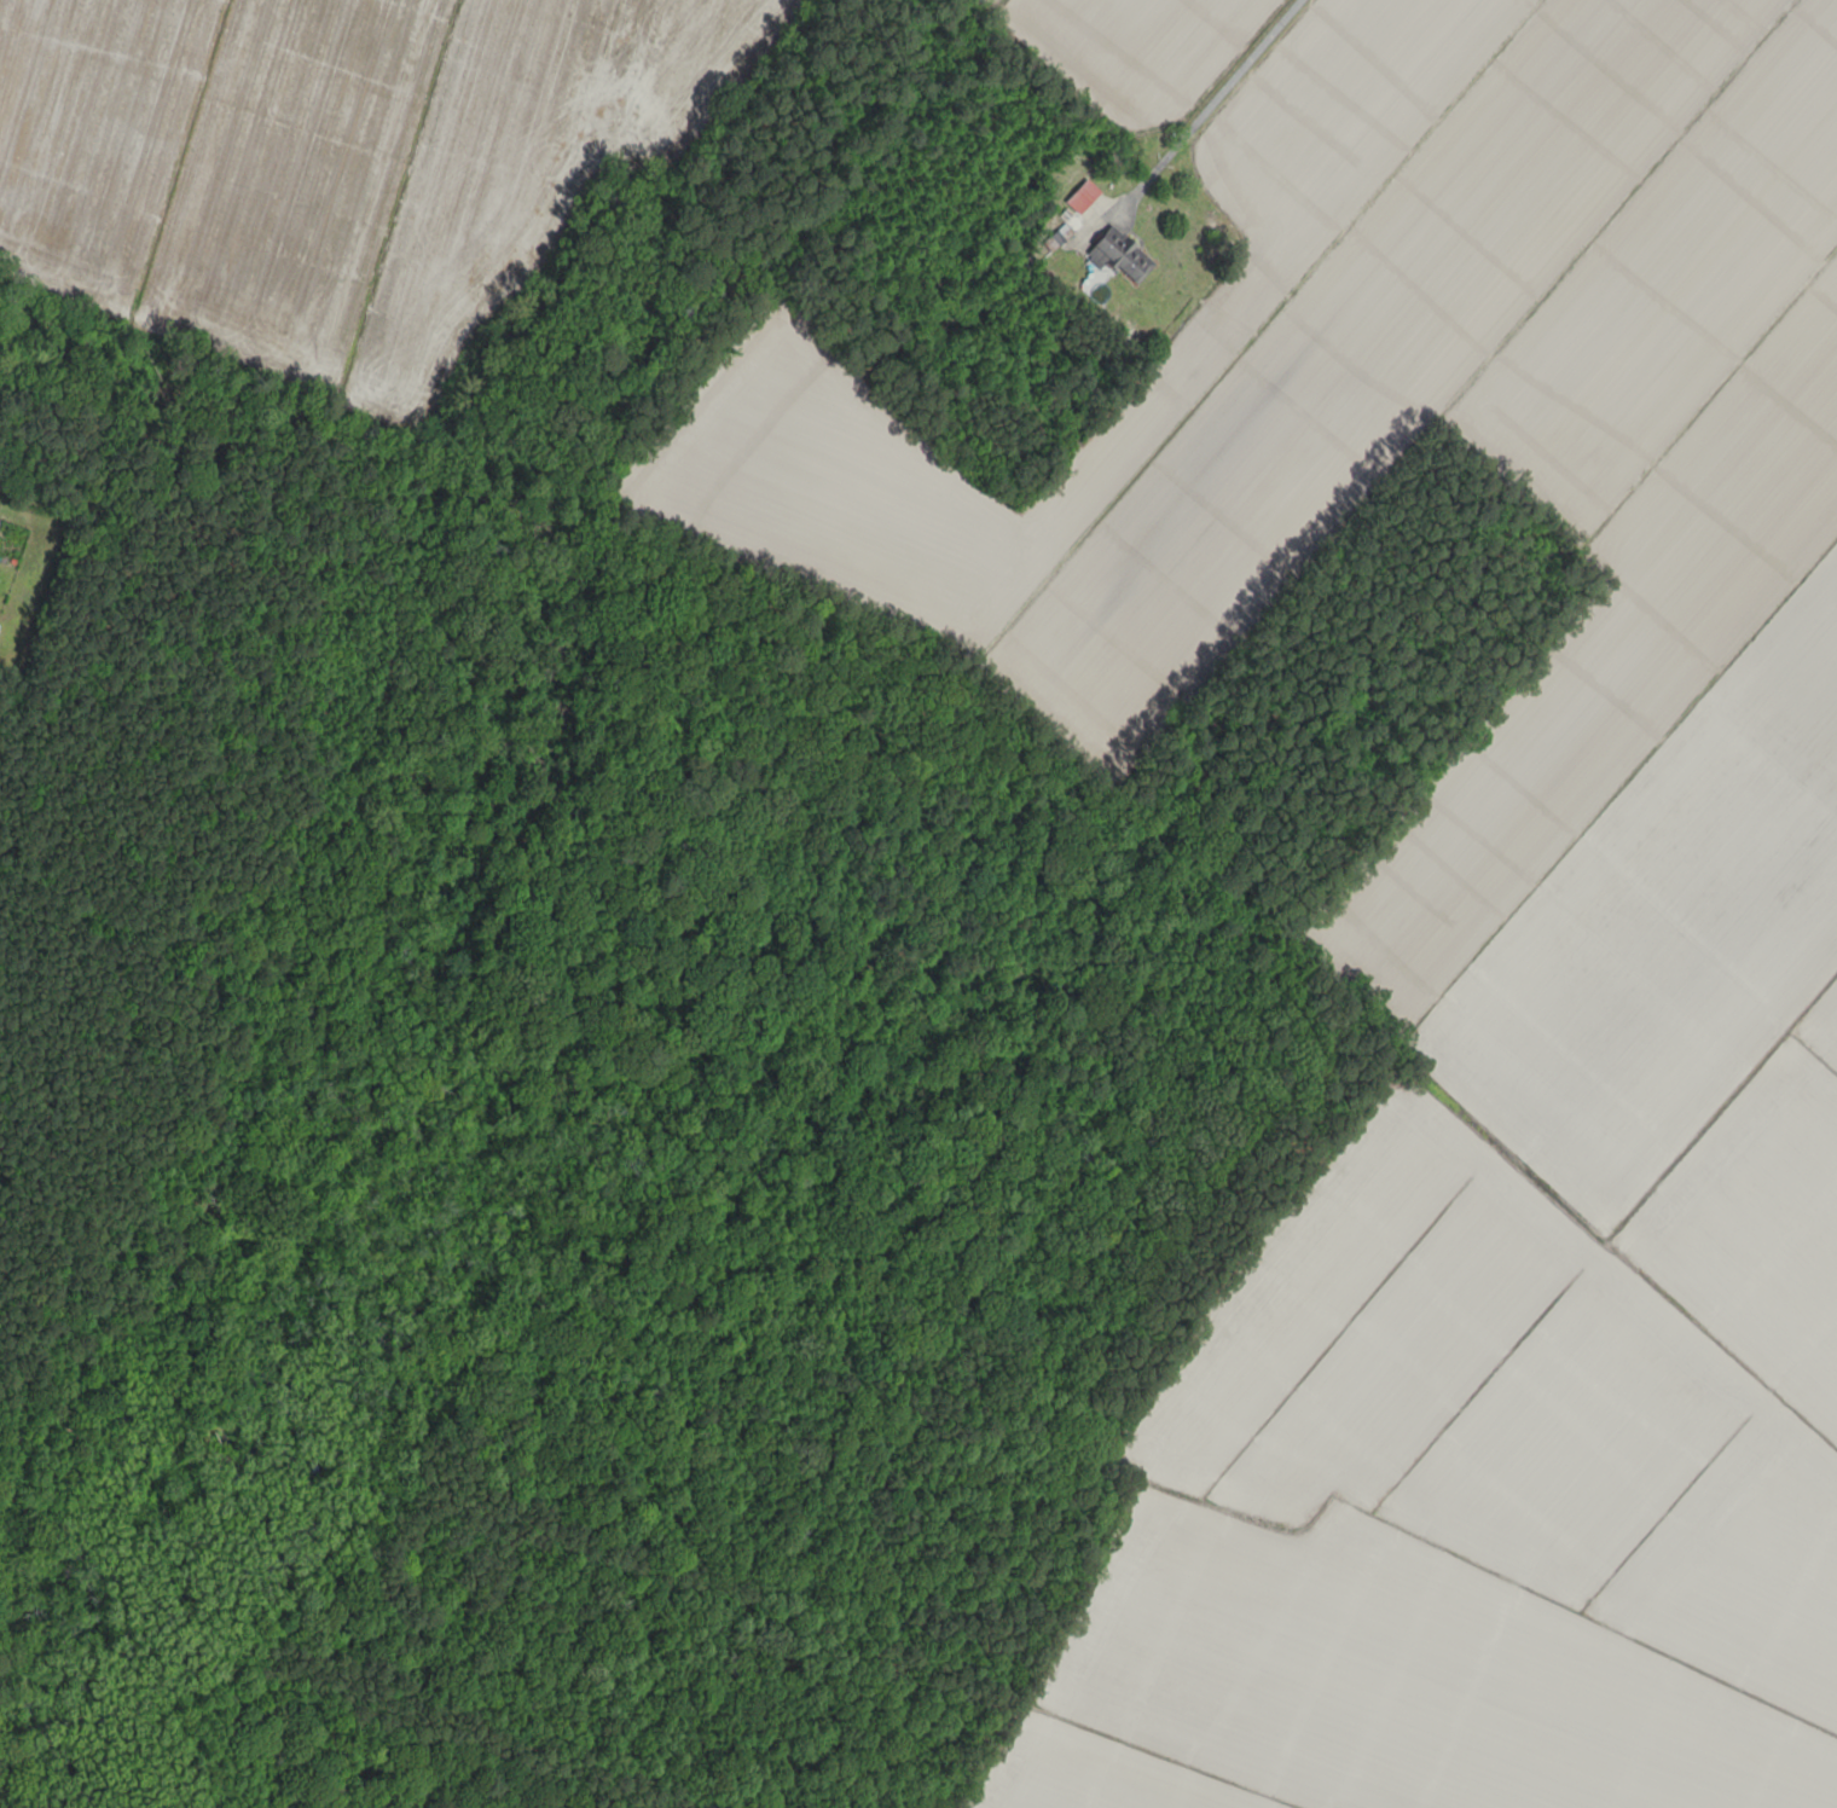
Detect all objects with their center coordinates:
road: (1209, 106)
building: (1119, 255)

